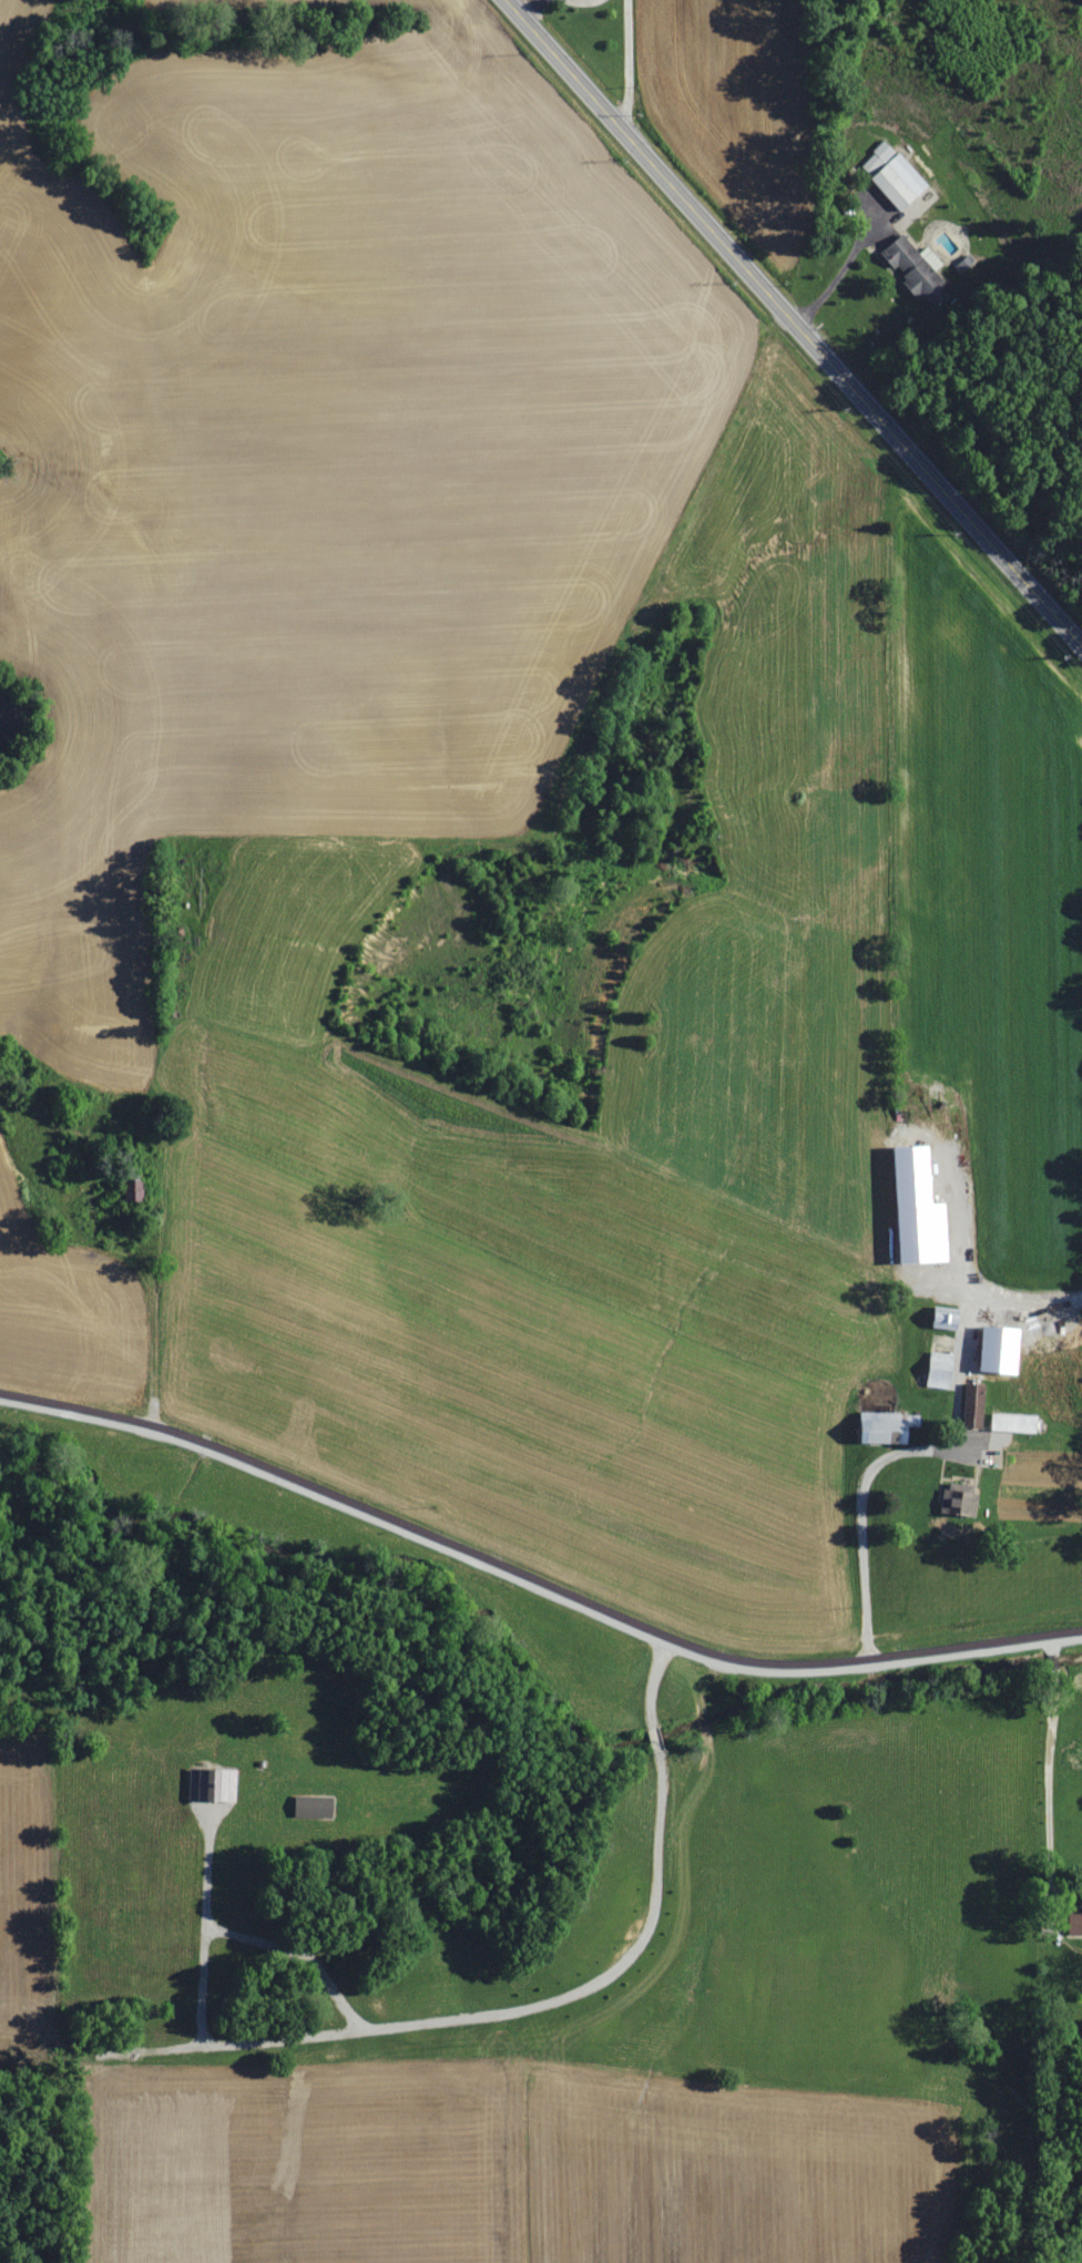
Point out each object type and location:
road: (623, 66)
building: (877, 156)
building: (900, 181)
building: (964, 264)
building: (919, 270)
road: (837, 275)
road: (794, 321)
building: (919, 1208)
road: (152, 1271)
building: (1001, 1350)
building: (940, 1370)
building: (974, 1405)
building: (887, 1427)
building: (960, 1498)
road: (864, 1516)
road: (533, 1580)
road: (1050, 1769)
building: (315, 1806)
building: (1076, 1922)

